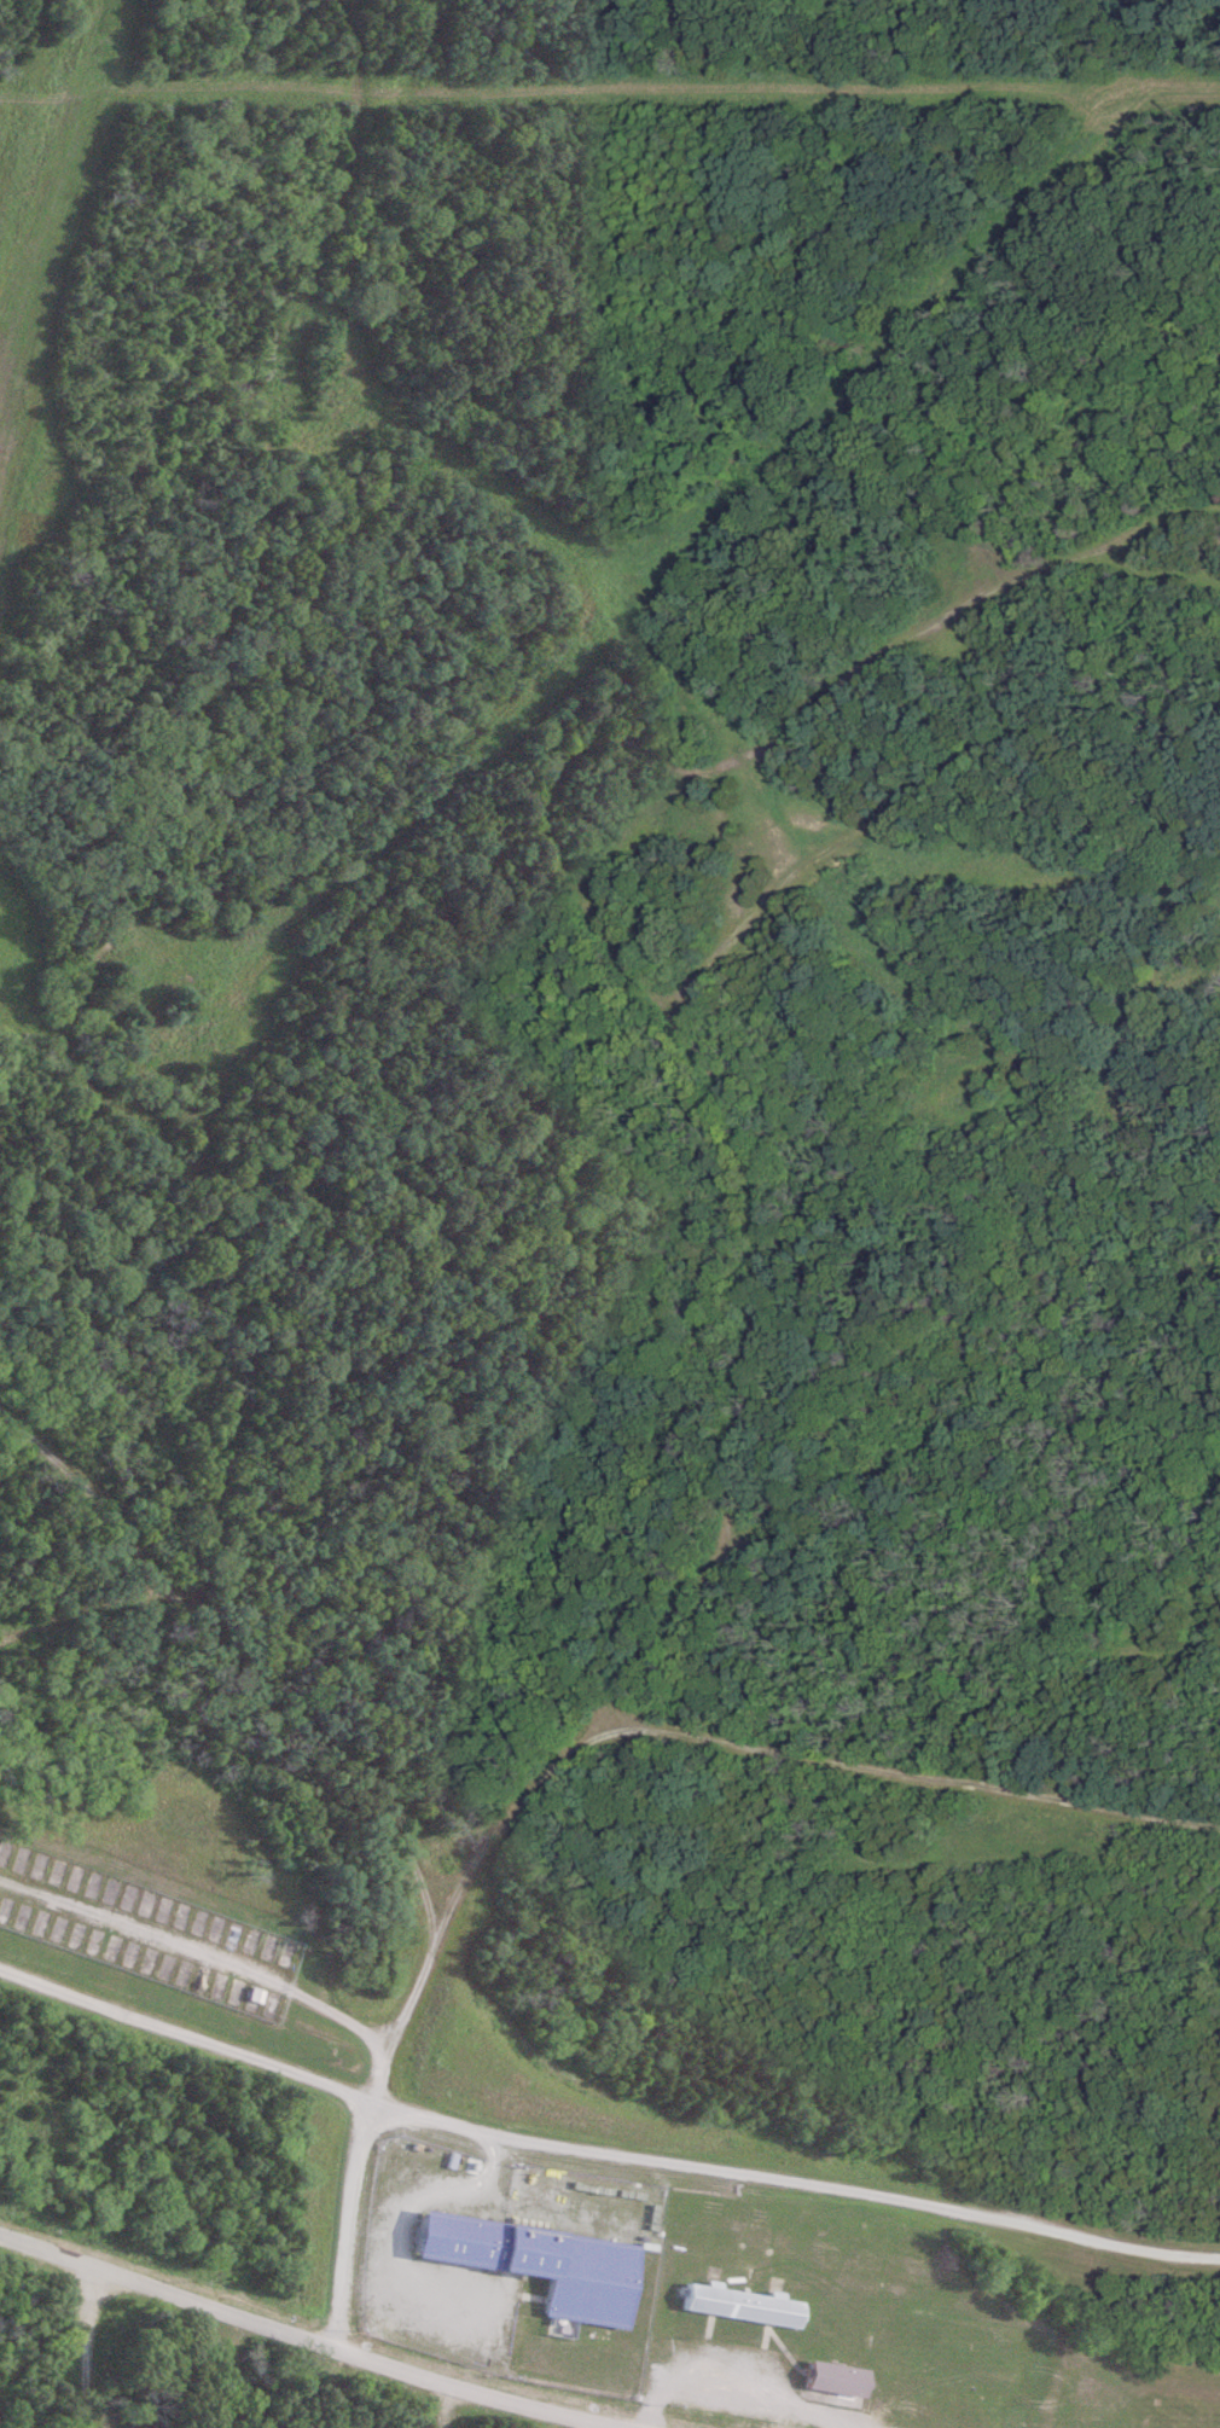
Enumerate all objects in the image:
road: (1155, 570)
road: (533, 815)
road: (1160, 824)
road: (633, 830)
road: (156, 835)
road: (852, 1481)
road: (81, 1607)
road: (647, 1649)
road: (233, 1667)
road: (570, 1748)
road: (441, 1880)
road: (199, 1951)
road: (602, 2142)
building: (540, 2264)
building: (742, 2304)
road: (318, 2343)
road: (82, 2346)
road: (232, 2365)
building: (832, 2377)
road: (734, 2388)
road: (618, 2426)

